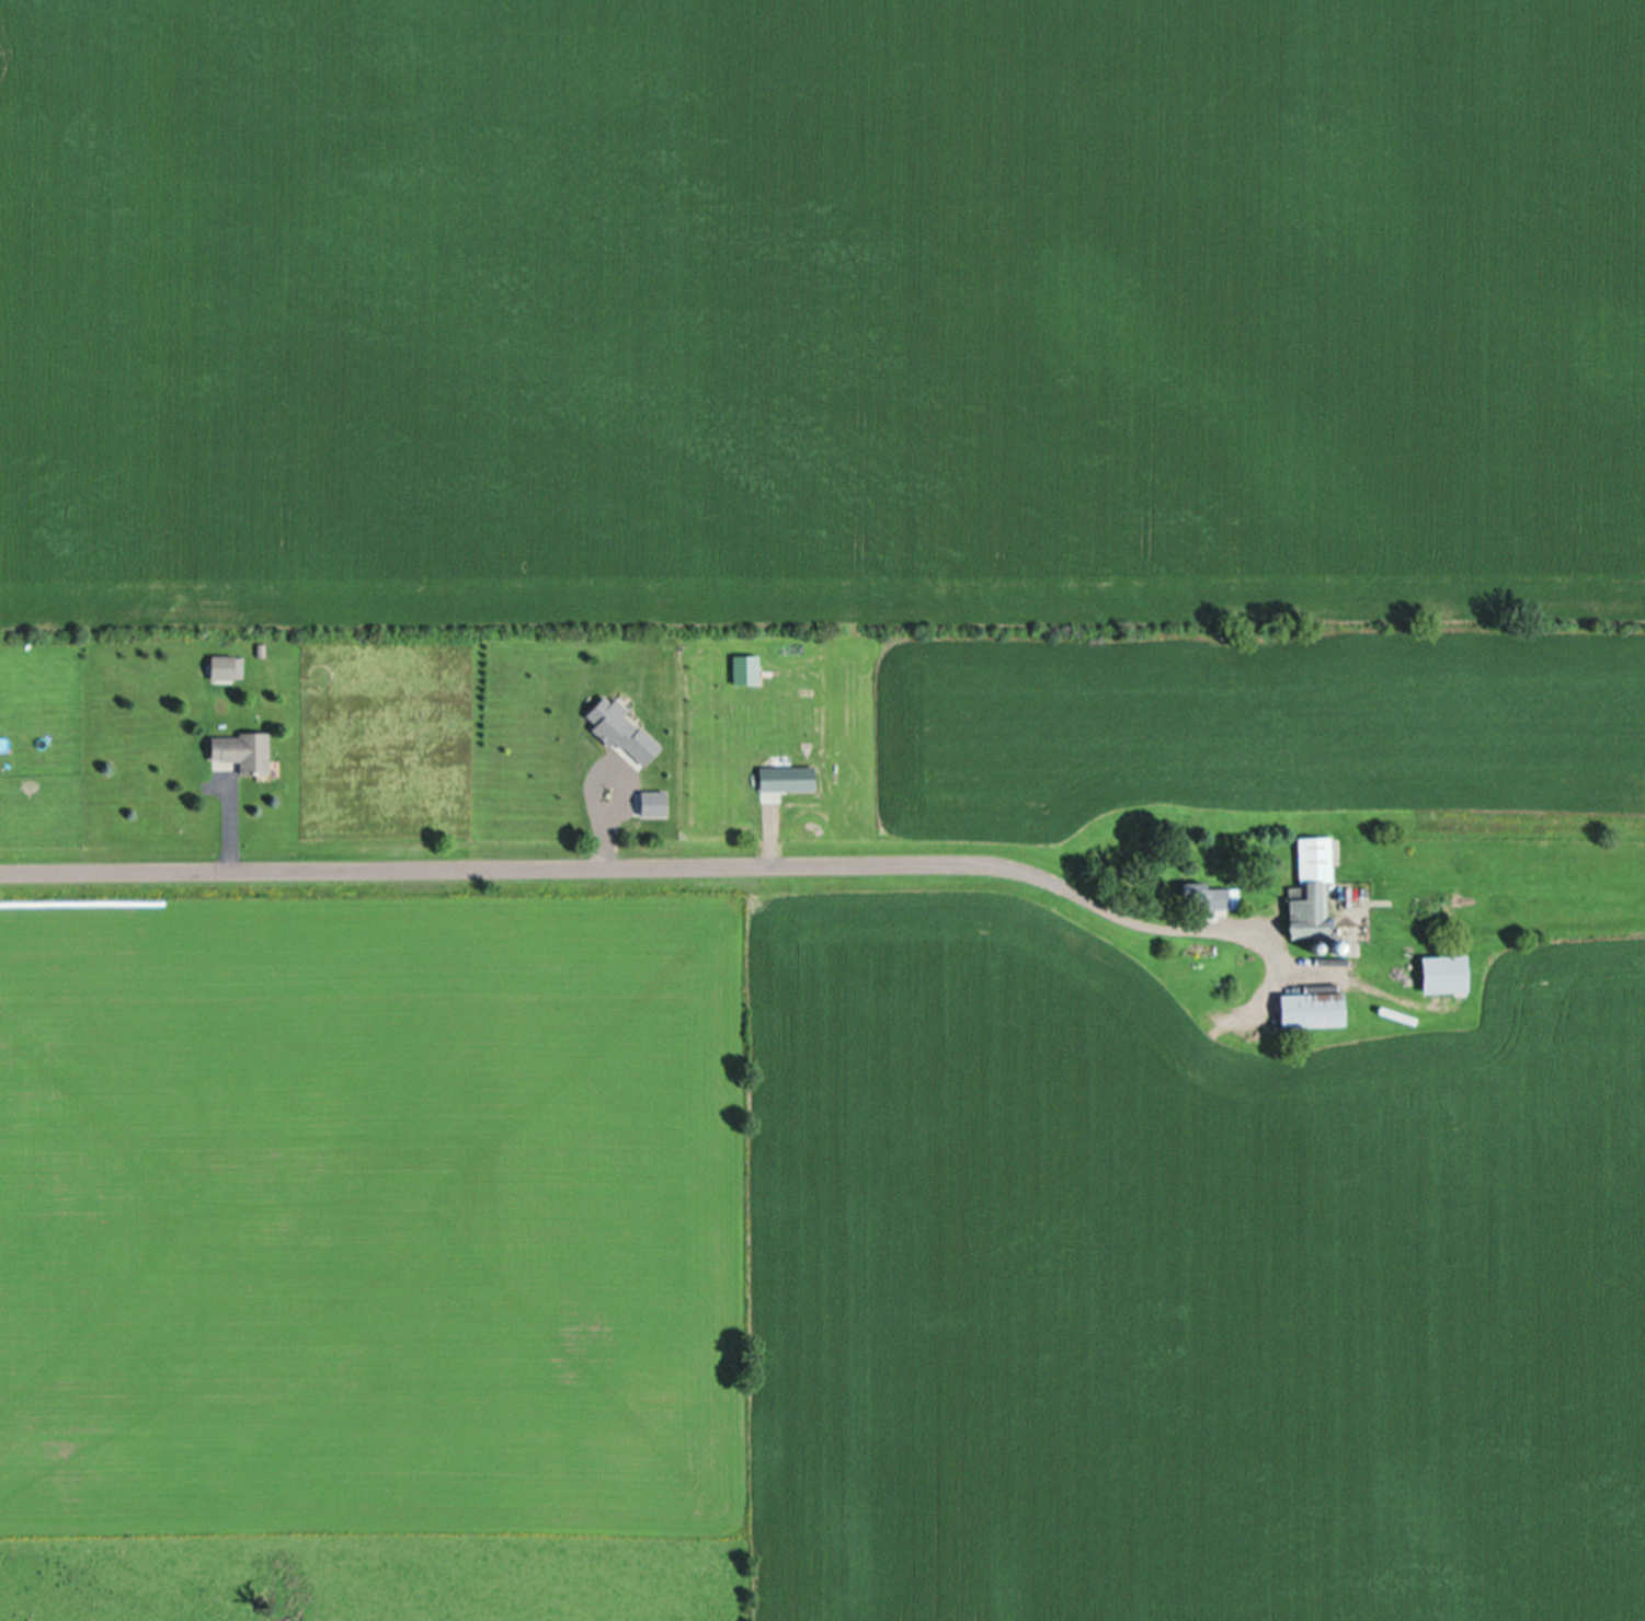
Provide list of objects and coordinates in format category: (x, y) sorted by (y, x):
building: (219, 667)
building: (238, 752)
building: (1312, 860)
road: (642, 866)
building: (1212, 898)
building: (1440, 974)
building: (1309, 1010)

